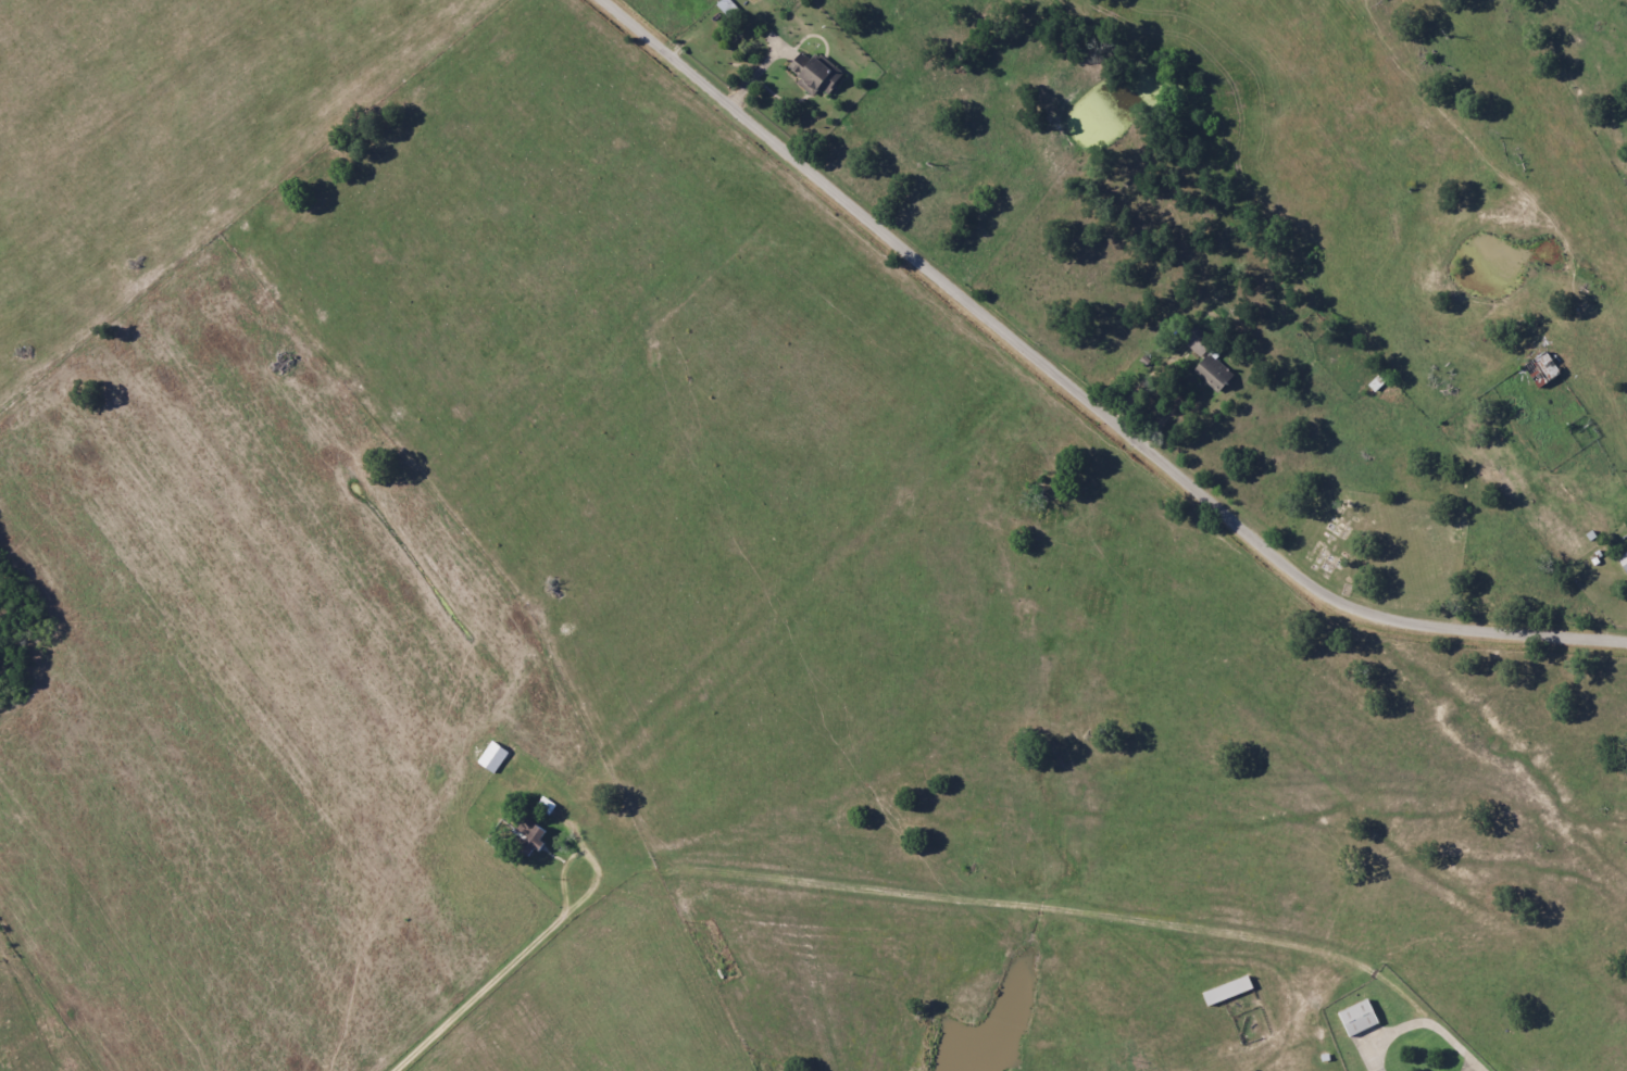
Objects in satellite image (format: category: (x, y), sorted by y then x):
building: (729, 9)
building: (816, 70)
building: (1200, 350)
building: (1216, 369)
road: (1085, 395)
park: (1339, 550)
building: (1624, 562)
building: (492, 757)
building: (533, 841)
road: (1041, 910)
building: (1357, 1018)

